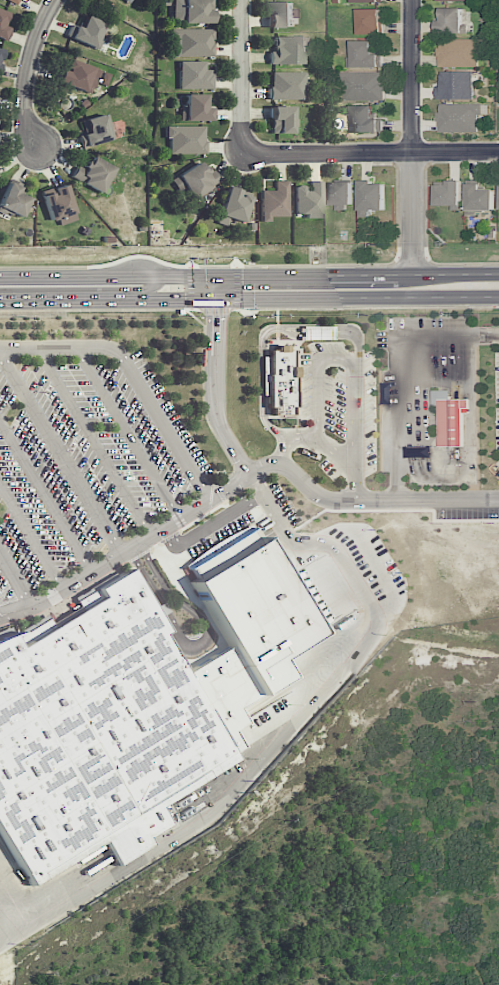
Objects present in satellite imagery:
building: (455, 0)
building: (15, 1)
building: (366, 1)
building: (191, 11)
building: (280, 14)
building: (369, 21)
building: (451, 21)
building: (3, 25)
building: (86, 31)
building: (191, 42)
building: (288, 50)
building: (459, 53)
building: (1, 55)
building: (364, 55)
road: (26, 74)
building: (194, 74)
building: (75, 75)
road: (240, 77)
building: (287, 84)
building: (364, 85)
building: (456, 85)
building: (195, 108)
building: (460, 117)
building: (282, 119)
building: (365, 120)
building: (94, 130)
road: (412, 137)
building: (185, 139)
road: (369, 154)
building: (93, 173)
building: (197, 179)
building: (340, 194)
building: (449, 195)
building: (371, 198)
building: (479, 198)
building: (308, 200)
building: (13, 201)
building: (274, 201)
building: (58, 204)
building: (232, 206)
traffic signals: (242, 276)
road: (249, 276)
road: (249, 298)
traffic signals: (185, 299)
traffic signals: (216, 318)
road: (267, 329)
road: (349, 361)
road: (397, 367)
road: (134, 372)
road: (216, 379)
building: (280, 381)
building: (451, 421)
road: (127, 432)
road: (94, 440)
road: (324, 446)
road: (61, 452)
building: (417, 452)
parking lot: (83, 463)
road: (46, 495)
road: (366, 498)
road: (31, 537)
road: (127, 549)
road: (16, 577)
road: (200, 645)
building: (105, 729)
road: (284, 745)
road: (15, 938)

